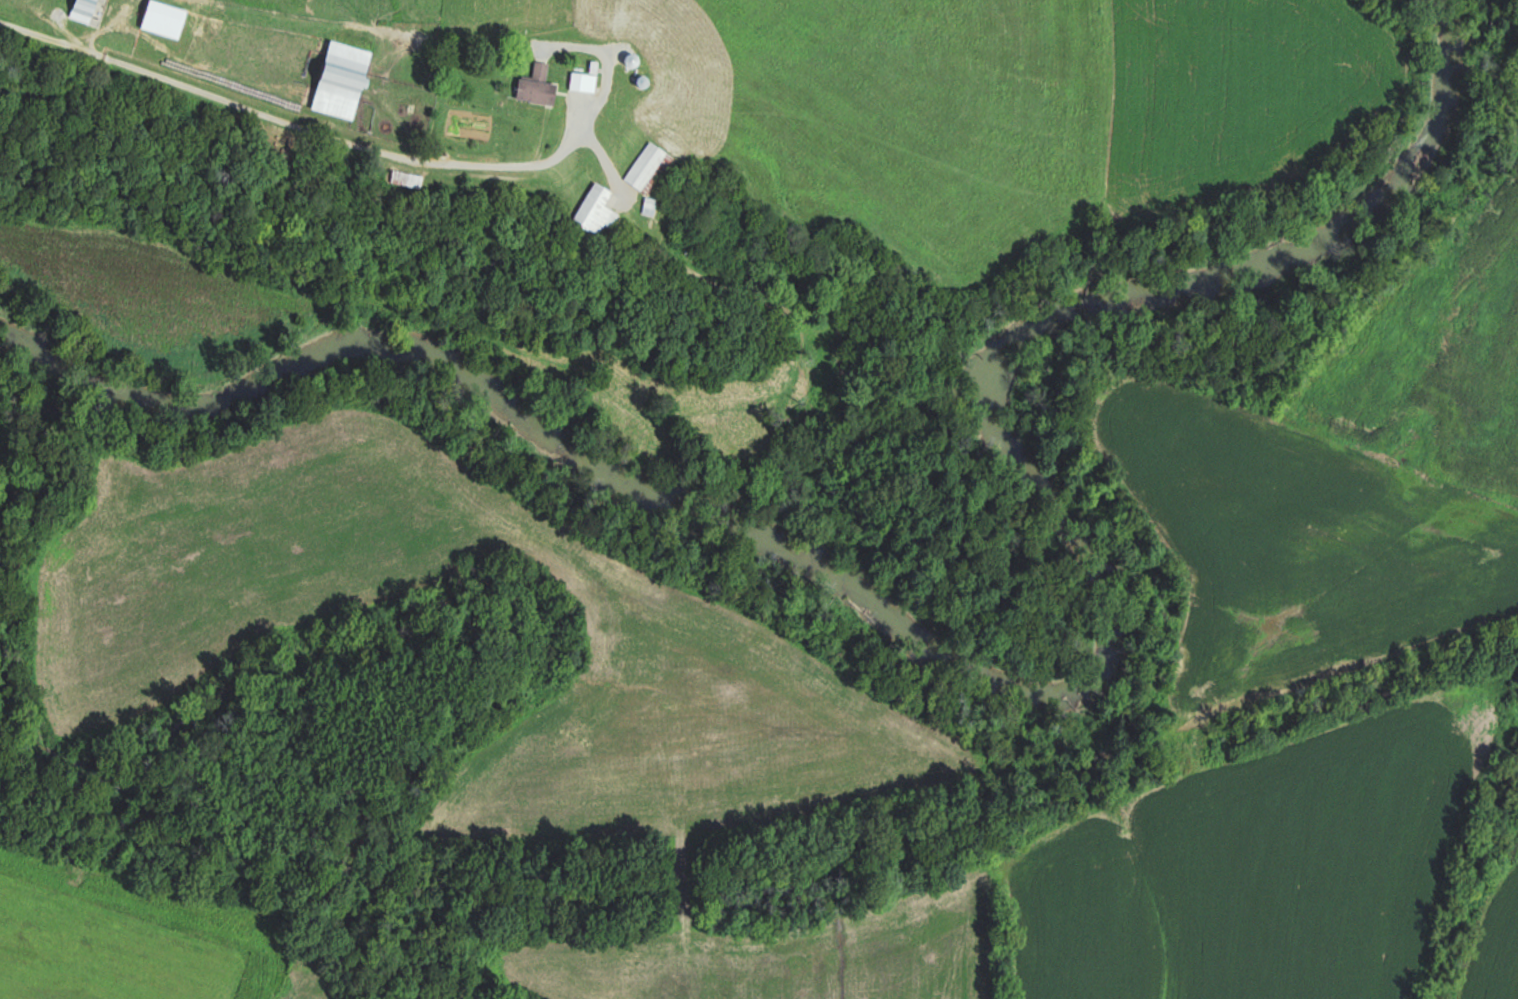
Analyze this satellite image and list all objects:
building: (80, 10)
building: (338, 80)
building: (583, 80)
building: (535, 86)
road: (291, 124)
building: (646, 168)
building: (404, 179)
building: (591, 212)

